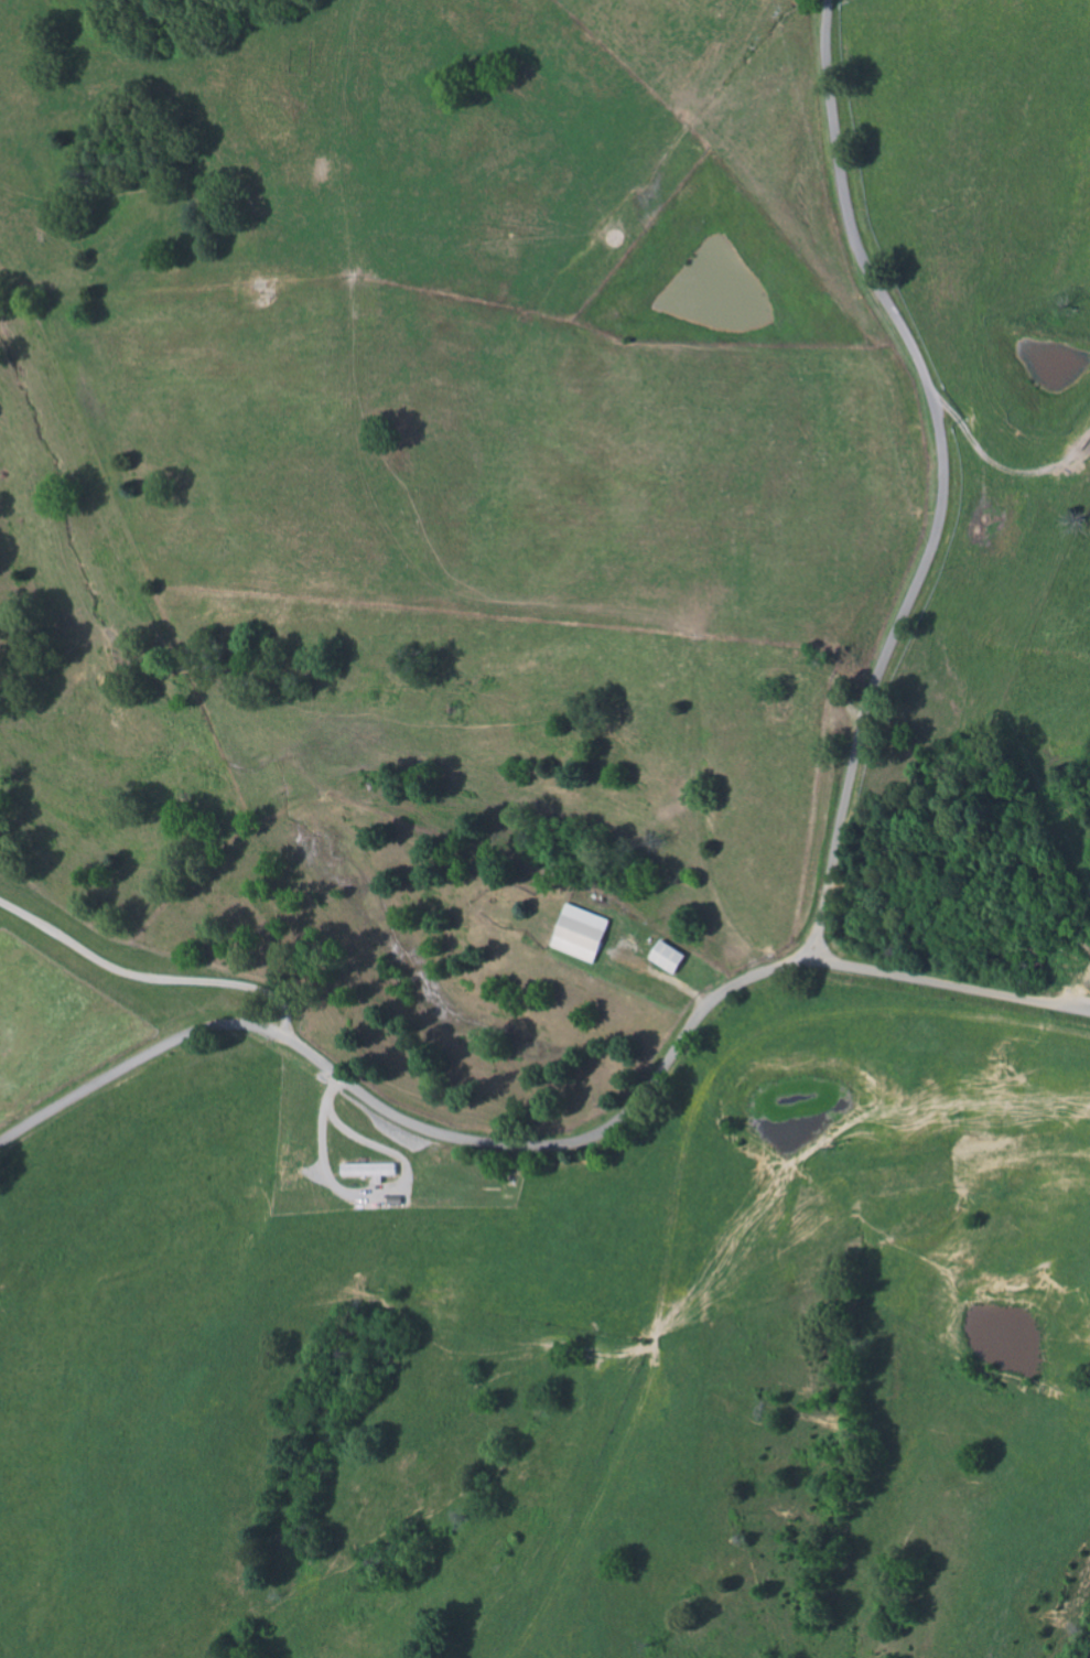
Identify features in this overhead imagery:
road: (941, 481)
road: (1010, 492)
building: (586, 933)
building: (673, 957)
road: (551, 1144)
building: (375, 1170)

